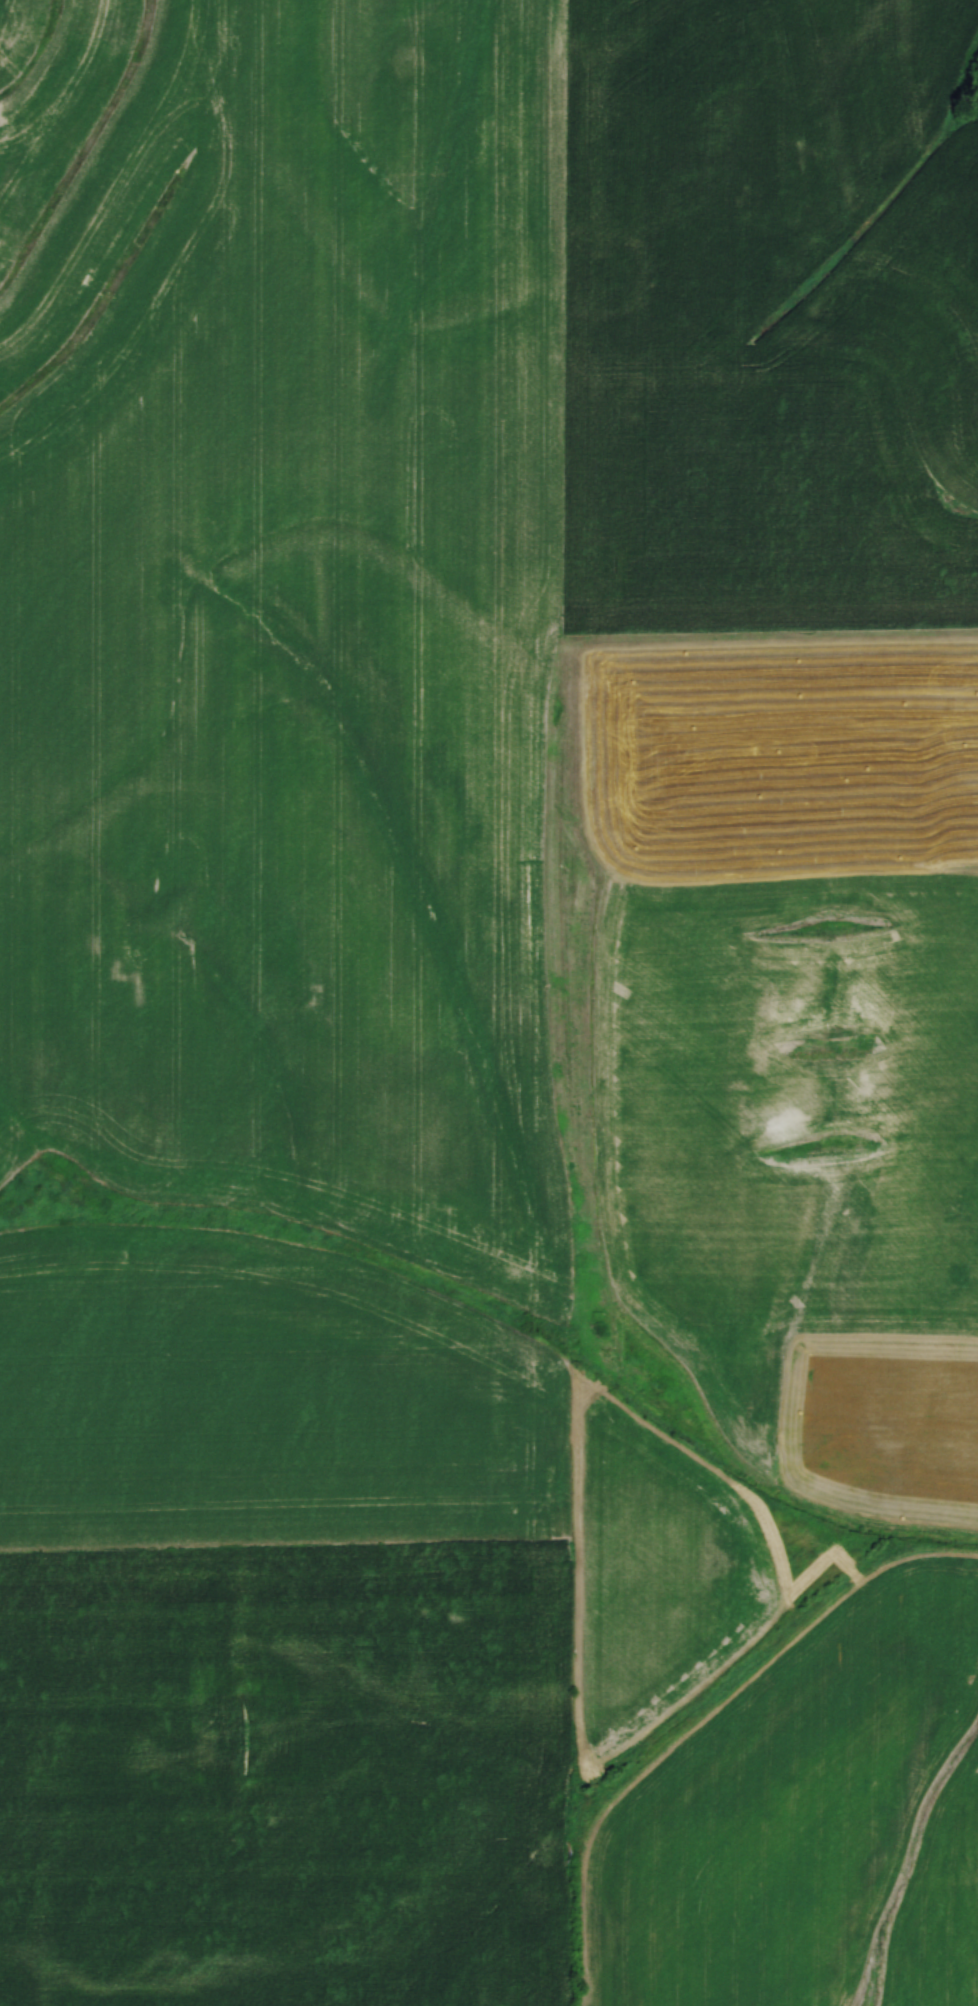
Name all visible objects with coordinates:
building: (599, 275)

